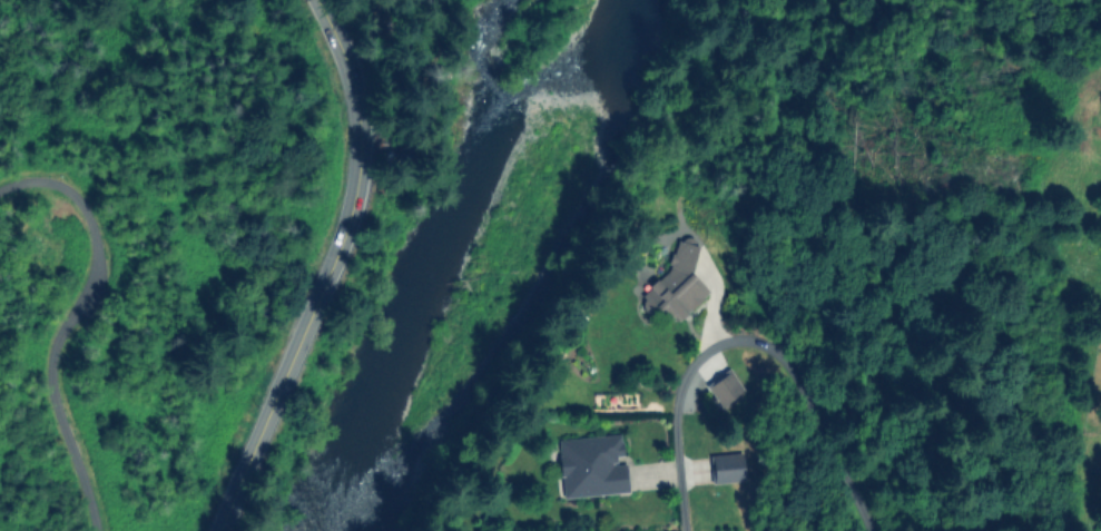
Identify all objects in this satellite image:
river: (449, 239)
road: (338, 269)
building: (674, 285)
road: (69, 323)
road: (749, 345)
building: (724, 389)
building: (591, 465)
building: (727, 468)

